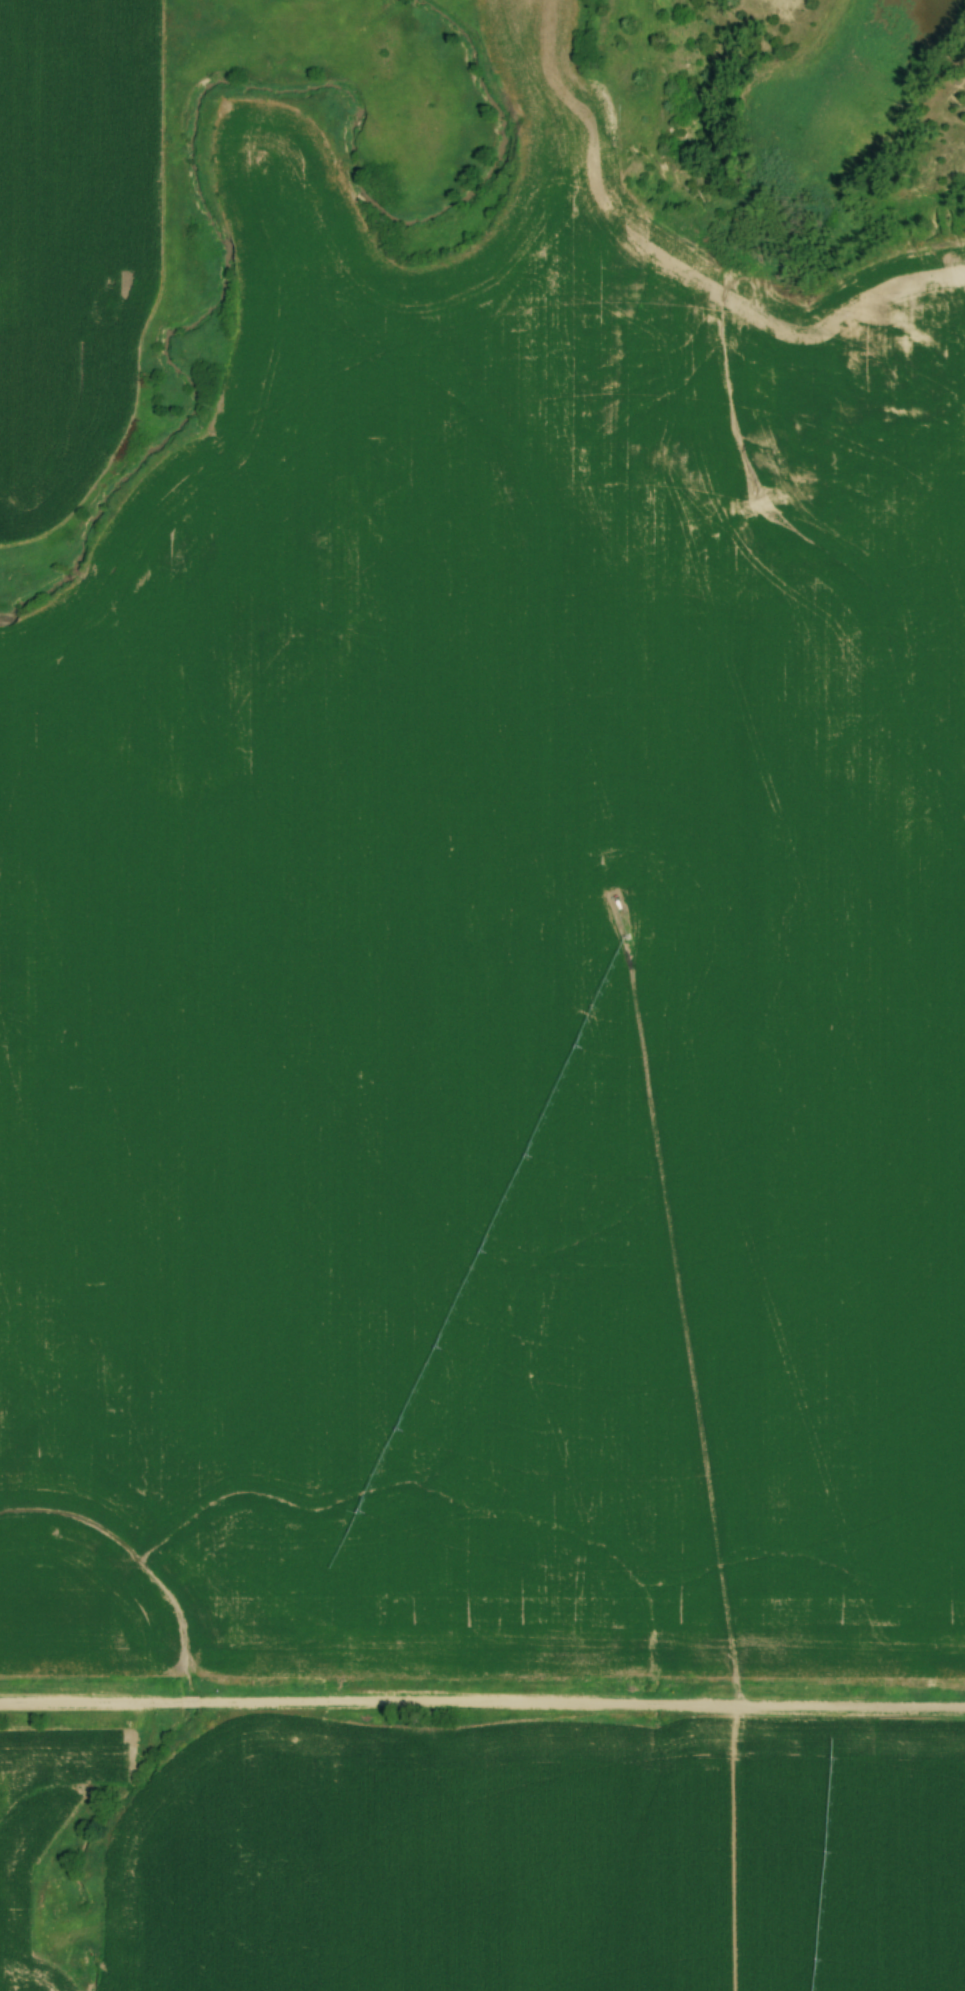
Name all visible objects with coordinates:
road: (482, 1690)

